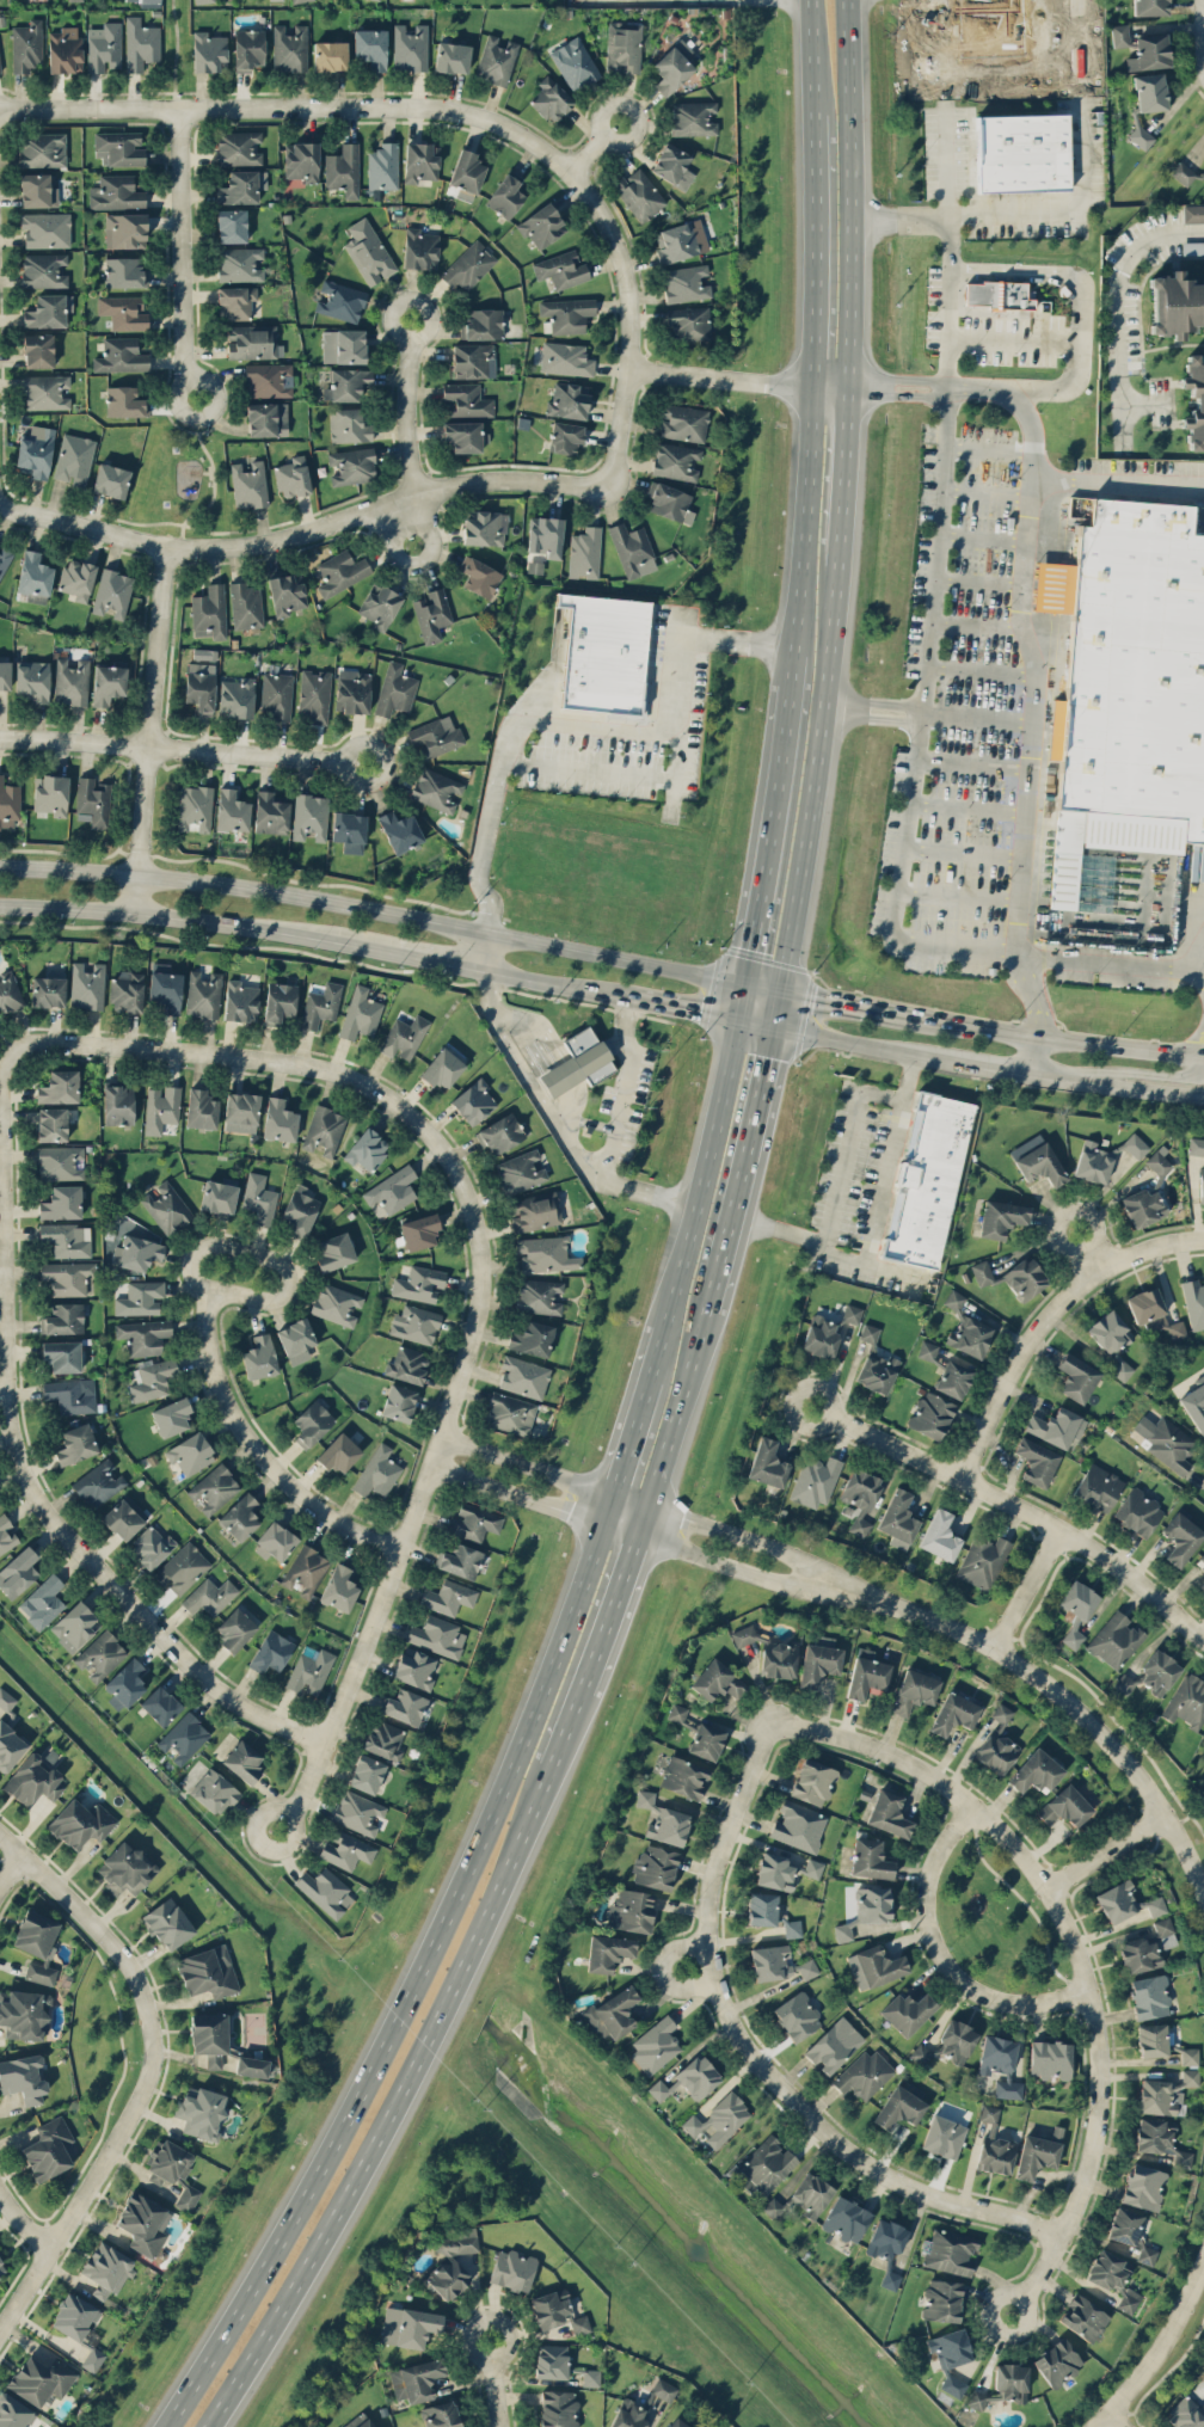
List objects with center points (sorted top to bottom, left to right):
building: (75, 0)
building: (299, 0)
building: (379, 0)
building: (203, 1)
building: (149, 2)
building: (1149, 7)
building: (1119, 35)
building: (141, 43)
building: (26, 45)
building: (104, 47)
building: (622, 47)
building: (248, 48)
building: (290, 48)
building: (371, 48)
building: (410, 48)
building: (66, 50)
building: (209, 51)
building: (1149, 51)
road: (176, 54)
building: (330, 55)
road: (813, 55)
building: (454, 57)
building: (497, 59)
building: (575, 63)
building: (672, 67)
road: (1024, 68)
building: (551, 99)
building: (1147, 102)
road: (400, 106)
building: (692, 117)
road: (595, 145)
building: (239, 147)
building: (119, 148)
building: (42, 149)
building: (1022, 153)
building: (301, 160)
building: (419, 161)
building: (672, 165)
building: (383, 166)
building: (344, 170)
building: (467, 171)
building: (1182, 173)
building: (241, 186)
building: (37, 190)
road: (850, 191)
building: (116, 192)
building: (639, 193)
building: (506, 195)
road: (1070, 211)
building: (1193, 213)
building: (232, 225)
building: (542, 225)
building: (45, 229)
building: (125, 229)
building: (680, 240)
road: (815, 246)
building: (1192, 247)
building: (420, 248)
building: (368, 252)
road: (182, 253)
building: (239, 264)
building: (468, 265)
building: (44, 269)
building: (563, 269)
building: (124, 272)
road: (1042, 272)
building: (684, 283)
building: (996, 294)
building: (236, 301)
building: (340, 301)
building: (1175, 303)
building: (48, 311)
building: (124, 311)
building: (567, 313)
road: (1120, 313)
building: (688, 322)
building: (480, 324)
road: (1012, 340)
building: (253, 342)
building: (344, 345)
building: (38, 350)
building: (121, 355)
building: (565, 358)
building: (473, 360)
road: (719, 376)
building: (268, 379)
road: (833, 382)
building: (348, 383)
road: (867, 383)
road: (1062, 385)
road: (944, 386)
building: (45, 391)
building: (465, 400)
building: (569, 400)
building: (1194, 400)
building: (125, 401)
road: (407, 406)
building: (268, 418)
building: (682, 422)
building: (349, 425)
building: (465, 436)
building: (565, 437)
building: (36, 450)
road: (988, 451)
building: (74, 459)
building: (675, 460)
building: (354, 465)
road: (844, 474)
building: (294, 477)
building: (111, 480)
road: (1118, 480)
building: (250, 484)
road: (446, 486)
road: (987, 493)
building: (669, 502)
road: (806, 515)
road: (405, 522)
road: (82, 523)
building: (484, 527)
road: (939, 532)
building: (547, 535)
road: (982, 537)
building: (632, 549)
building: (584, 553)
building: (4, 558)
building: (535, 566)
building: (340, 571)
building: (35, 576)
building: (480, 576)
building: (76, 578)
road: (979, 579)
building: (112, 592)
building: (287, 592)
building: (246, 606)
building: (380, 606)
building: (209, 612)
building: (431, 614)
road: (976, 626)
road: (741, 641)
building: (603, 653)
road: (554, 663)
road: (981, 670)
road: (1036, 674)
building: (5, 675)
building: (33, 680)
building: (72, 681)
building: (107, 683)
building: (1128, 684)
building: (201, 686)
building: (394, 689)
building: (352, 690)
building: (276, 695)
building: (314, 695)
building: (236, 698)
road: (874, 703)
road: (677, 714)
road: (873, 715)
road: (977, 717)
road: (149, 729)
building: (435, 737)
road: (504, 744)
road: (183, 749)
road: (973, 763)
road: (586, 772)
road: (815, 776)
building: (436, 789)
building: (50, 793)
building: (92, 801)
building: (8, 804)
road: (970, 806)
building: (193, 807)
building: (232, 810)
building: (272, 812)
road: (773, 815)
building: (309, 816)
building: (400, 830)
building: (350, 831)
road: (965, 850)
road: (960, 895)
road: (375, 910)
road: (192, 921)
road: (490, 951)
road: (437, 961)
road: (1111, 963)
traffic signals: (747, 982)
road: (559, 984)
building: (87, 985)
road: (764, 985)
building: (166, 989)
traffic signals: (782, 989)
building: (128, 990)
building: (48, 991)
building: (8, 993)
building: (203, 994)
road: (829, 997)
building: (240, 1001)
building: (279, 1001)
building: (321, 1004)
road: (778, 1008)
road: (701, 1012)
building: (361, 1013)
traffic signals: (739, 1020)
traffic signals: (774, 1027)
road: (1039, 1032)
building: (404, 1037)
road: (1031, 1052)
road: (4, 1059)
road: (258, 1061)
building: (578, 1062)
road: (988, 1065)
building: (442, 1068)
road: (1139, 1071)
building: (60, 1087)
road: (625, 1089)
road: (881, 1094)
building: (473, 1101)
building: (118, 1105)
building: (161, 1107)
building: (201, 1108)
building: (241, 1111)
building: (279, 1120)
building: (53, 1123)
road: (557, 1124)
building: (324, 1131)
building: (500, 1132)
building: (1196, 1145)
building: (367, 1149)
road: (708, 1156)
road: (890, 1157)
building: (1037, 1160)
building: (60, 1162)
building: (1093, 1162)
building: (1159, 1162)
road: (743, 1166)
building: (521, 1171)
road: (841, 1171)
building: (926, 1179)
building: (1200, 1182)
building: (392, 1190)
building: (217, 1196)
building: (259, 1198)
building: (62, 1202)
building: (1142, 1206)
building: (167, 1208)
building: (299, 1211)
building: (534, 1212)
building: (1001, 1217)
road: (779, 1229)
building: (419, 1230)
building: (67, 1239)
road: (1089, 1248)
building: (334, 1251)
building: (136, 1253)
building: (543, 1253)
road: (260, 1258)
road: (876, 1266)
building: (67, 1277)
building: (1012, 1277)
building: (419, 1283)
building: (539, 1295)
building: (141, 1297)
building: (1194, 1299)
building: (336, 1303)
building: (1153, 1311)
building: (850, 1313)
building: (63, 1319)
road: (1048, 1320)
building: (414, 1323)
building: (966, 1328)
building: (1110, 1332)
building: (143, 1335)
building: (819, 1337)
building: (534, 1338)
building: (296, 1339)
building: (927, 1350)
road: (658, 1353)
building: (62, 1356)
building: (259, 1357)
building: (874, 1363)
building: (407, 1364)
building: (1122, 1369)
building: (524, 1376)
building: (1076, 1377)
building: (953, 1378)
building: (153, 1380)
building: (72, 1394)
building: (400, 1402)
road: (680, 1403)
building: (1194, 1405)
building: (510, 1413)
building: (930, 1414)
building: (171, 1415)
building: (312, 1423)
building: (1056, 1426)
building: (1166, 1442)
building: (75, 1443)
road: (251, 1449)
road: (627, 1450)
building: (190, 1452)
building: (338, 1452)
building: (1036, 1461)
road: (526, 1462)
building: (767, 1463)
building: (377, 1471)
building: (815, 1480)
building: (98, 1483)
building: (1098, 1486)
building: (213, 1488)
road: (517, 1493)
building: (860, 1497)
road: (631, 1498)
road: (1016, 1505)
building: (1137, 1511)
building: (240, 1516)
road: (407, 1516)
building: (124, 1517)
road: (643, 1518)
building: (897, 1519)
building: (474, 1522)
road: (621, 1528)
building: (6, 1534)
building: (939, 1535)
building: (1181, 1536)
road: (749, 1538)
building: (275, 1541)
building: (150, 1546)
road: (79, 1555)
road: (709, 1557)
building: (460, 1560)
building: (981, 1560)
building: (1200, 1560)
building: (183, 1568)
building: (305, 1571)
building: (18, 1572)
building: (1202, 1585)
building: (339, 1587)
road: (811, 1587)
road: (1027, 1589)
building: (209, 1596)
building: (449, 1597)
building: (1077, 1599)
building: (42, 1600)
road: (609, 1611)
building: (74, 1626)
building: (235, 1629)
building: (437, 1635)
building: (1114, 1639)
building: (271, 1651)
building: (770, 1652)
building: (100, 1654)
building: (818, 1660)
building: (414, 1667)
building: (309, 1671)
building: (1157, 1671)
building: (866, 1672)
building: (718, 1681)
building: (124, 1683)
building: (1124, 1683)
building: (914, 1690)
road: (1058, 1692)
building: (1186, 1701)
building: (159, 1704)
building: (404, 1706)
building: (676, 1712)
building: (953, 1713)
road: (567, 1727)
building: (184, 1737)
building: (383, 1739)
building: (706, 1740)
building: (997, 1743)
building: (242, 1761)
building: (1036, 1771)
building: (367, 1774)
building: (683, 1776)
building: (32, 1780)
building: (813, 1781)
building: (214, 1792)
building: (1065, 1806)
building: (357, 1812)
building: (887, 1813)
building: (663, 1819)
building: (80, 1823)
building: (797, 1825)
building: (346, 1849)
road: (1108, 1851)
building: (870, 1858)
building: (655, 1866)
building: (812, 1867)
road: (8, 1868)
building: (125, 1868)
building: (775, 1872)
building: (326, 1891)
building: (1125, 1901)
road: (1025, 1903)
building: (762, 1909)
building: (631, 1910)
building: (866, 1910)
building: (168, 1923)
building: (1162, 1927)
building: (792, 1928)
building: (37, 1944)
road: (1073, 1944)
building: (608, 1952)
building: (1138, 1954)
road: (940, 1955)
building: (778, 1962)
building: (879, 1965)
road: (662, 1970)
building: (208, 1972)
road: (412, 1987)
building: (1149, 1996)
building: (907, 2011)
building: (612, 2013)
building: (24, 2014)
building: (797, 2015)
building: (210, 2036)
building: (1153, 2039)
building: (948, 2042)
building: (655, 2044)
building: (834, 2045)
building: (1188, 2056)
building: (1050, 2058)
road: (756, 2060)
building: (1000, 2064)
building: (252, 2066)
road: (147, 2069)
building: (864, 2073)
building: (1190, 2076)
building: (23, 2077)
building: (688, 2079)
road: (393, 2102)
building: (901, 2105)
building: (201, 2113)
building: (718, 2119)
building: (942, 2136)
building: (1160, 2139)
building: (994, 2145)
building: (48, 2146)
building: (1034, 2155)
building: (766, 2165)
building: (173, 2170)
building: (1143, 2186)
building: (803, 2196)
building: (846, 2218)
road: (18, 2223)
building: (143, 2223)
building: (1124, 2225)
building: (886, 2247)
building: (951, 2250)
building: (1145, 2254)
building: (450, 2259)
building: (2, 2267)
building: (106, 2269)
building: (512, 2269)
building: (1113, 2278)
building: (941, 2300)
building: (551, 2308)
building: (1083, 2317)
building: (580, 2324)
building: (79, 2325)
building: (410, 2325)
road: (1160, 2354)
building: (950, 2355)
building: (552, 2360)
building: (1057, 2361)
building: (591, 2377)
building: (41, 2379)
building: (416, 2379)
road: (493, 2383)
building: (1003, 2385)
building: (663, 2389)
building: (559, 2408)
building: (13, 2411)
building: (1186, 2413)
building: (440, 2414)
building: (627, 2415)
building: (358, 2421)
road: (1117, 2421)
building: (676, 2422)

